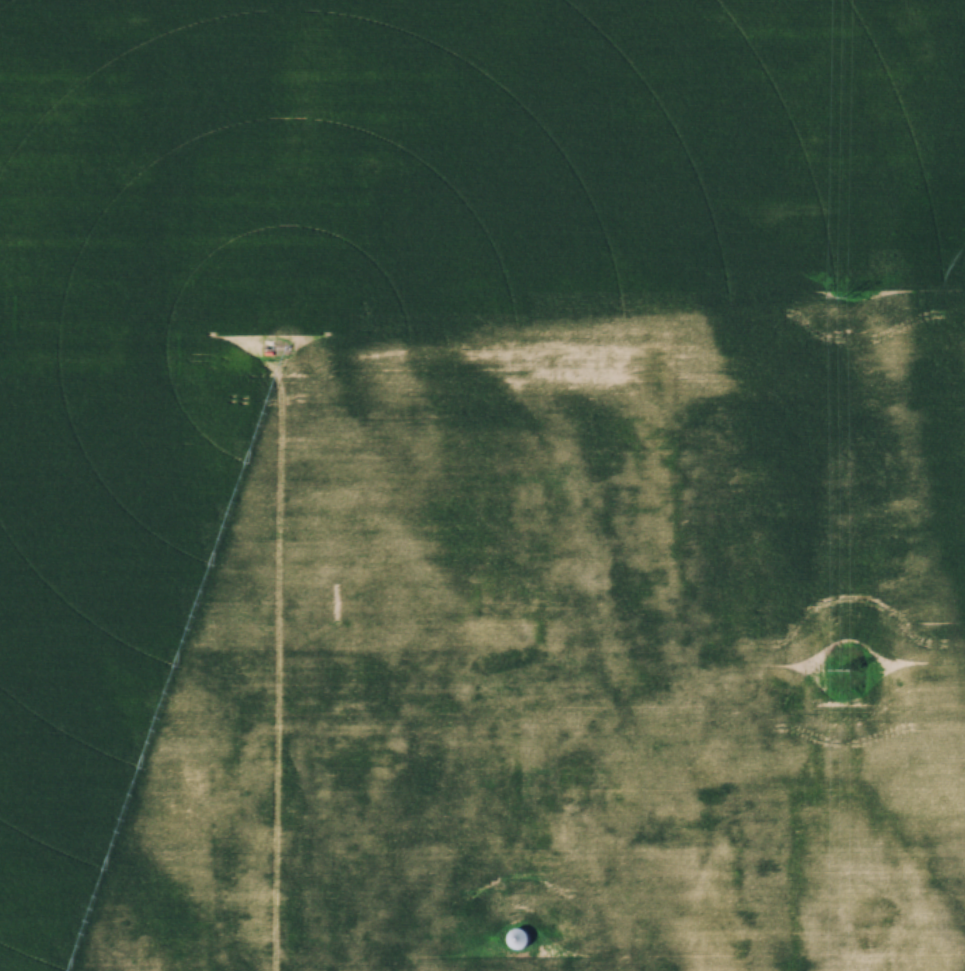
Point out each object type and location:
power tower: (846, 299)
power tower: (843, 672)
building: (518, 772)
building: (573, 776)
building: (540, 827)
building: (635, 835)
building: (543, 864)
building: (519, 940)

